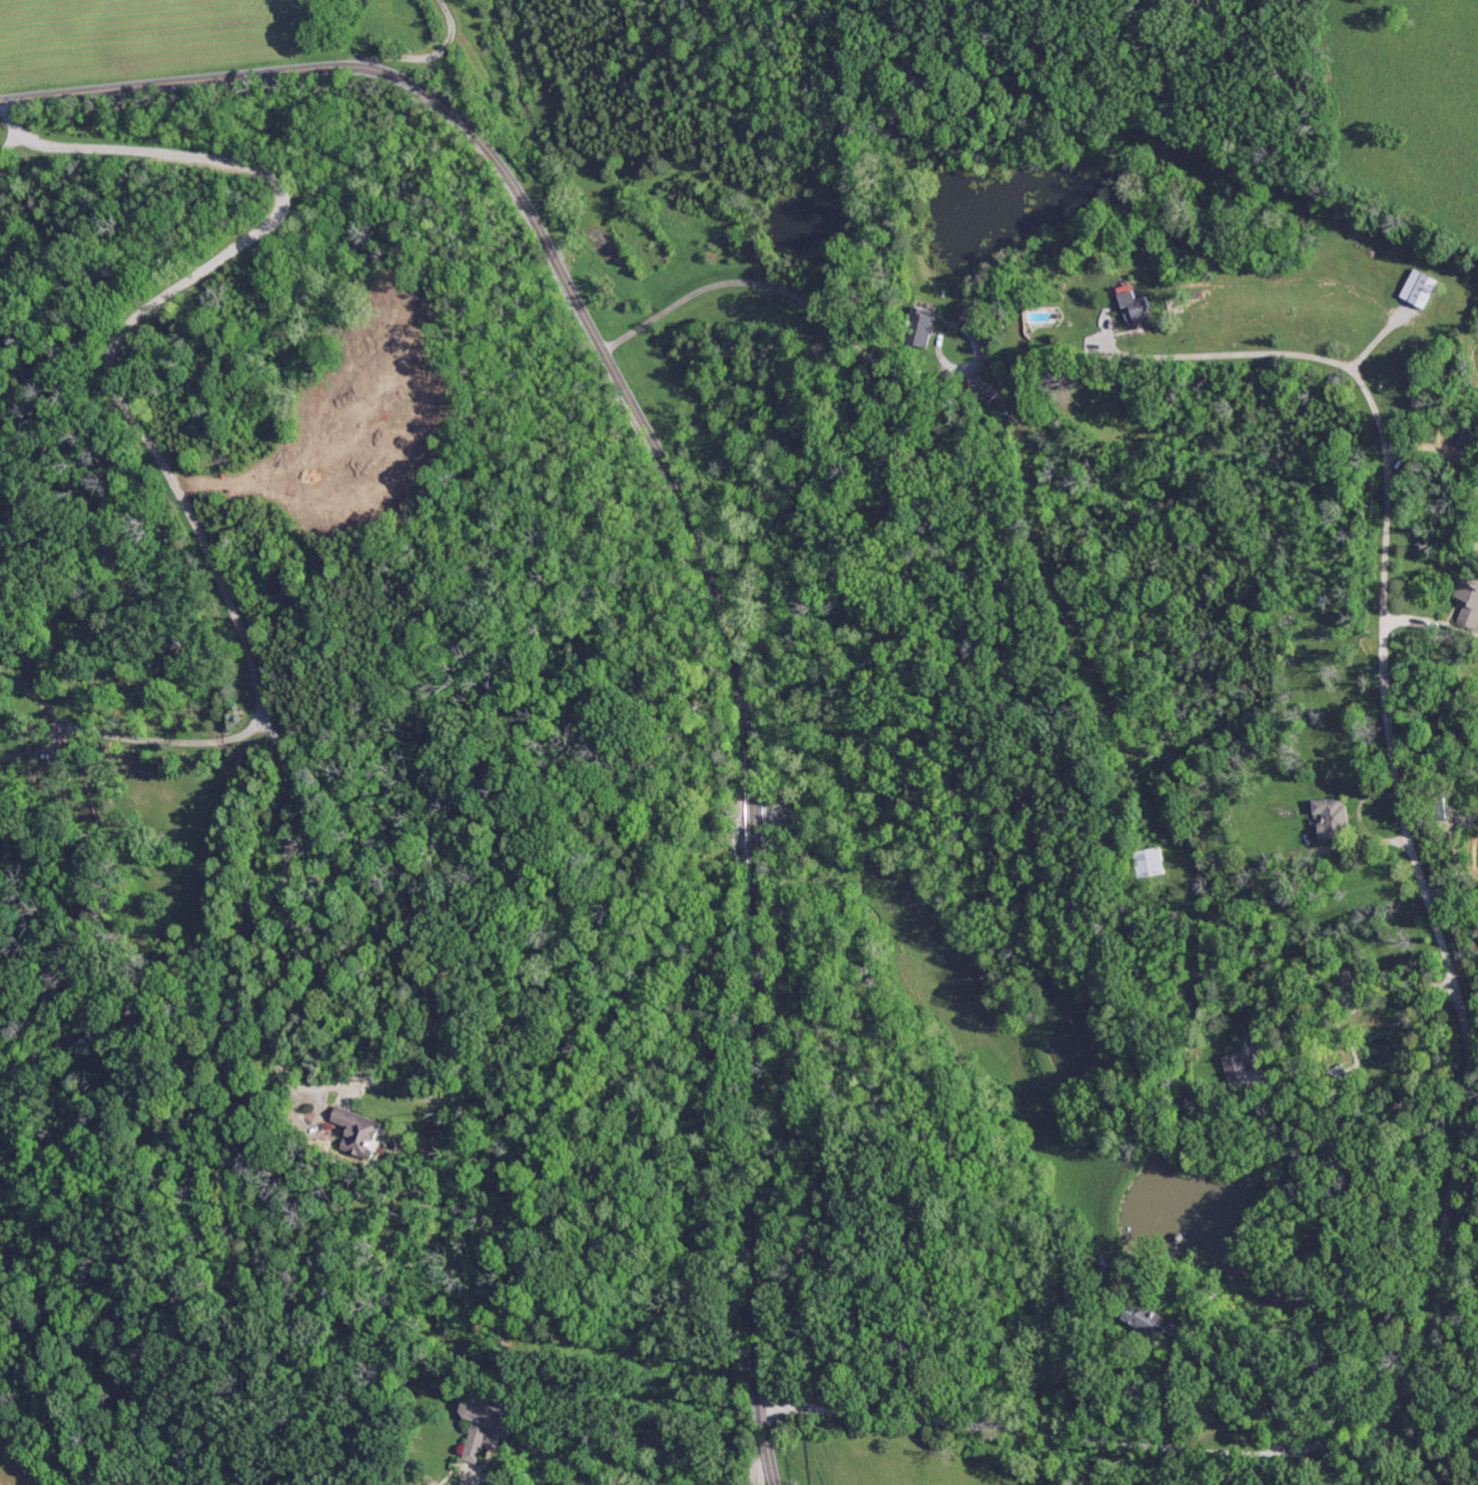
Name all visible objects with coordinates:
road: (422, 59)
road: (8, 141)
building: (1163, 280)
building: (1419, 289)
building: (1196, 296)
road: (161, 297)
road: (808, 305)
road: (655, 306)
building: (1135, 308)
building: (1058, 316)
road: (623, 327)
building: (921, 328)
building: (986, 394)
building: (1012, 419)
building: (1469, 441)
road: (697, 535)
building: (1468, 605)
road: (125, 737)
building: (1440, 808)
building: (1331, 819)
building: (1148, 863)
road: (275, 912)
building: (1475, 950)
building: (1404, 1034)
building: (1267, 1036)
building: (1309, 1036)
building: (1376, 1043)
building: (1236, 1044)
building: (1383, 1053)
building: (1335, 1076)
building: (1354, 1079)
building: (1249, 1081)
road: (1470, 1087)
building: (357, 1132)
building: (1177, 1238)
building: (1148, 1320)
road: (1261, 1393)
building: (489, 1427)
road: (1421, 1445)
road: (752, 1461)
building: (429, 1484)

